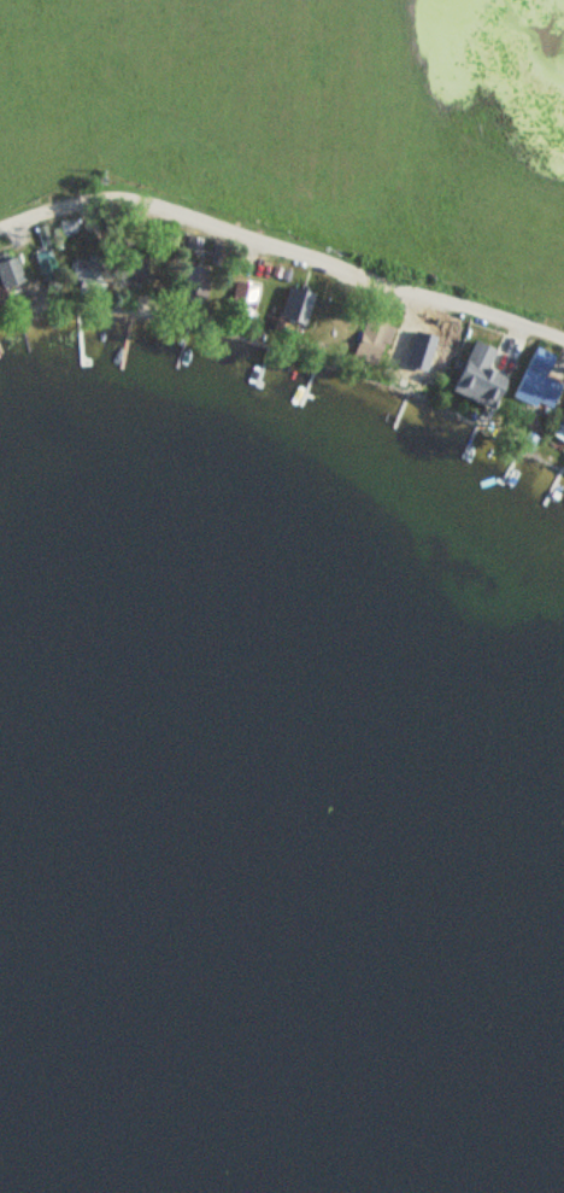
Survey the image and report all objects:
road: (281, 244)
building: (48, 265)
building: (134, 269)
building: (8, 276)
building: (245, 299)
building: (298, 305)
building: (375, 340)
building: (415, 361)
building: (474, 376)
building: (536, 381)
building: (559, 422)

